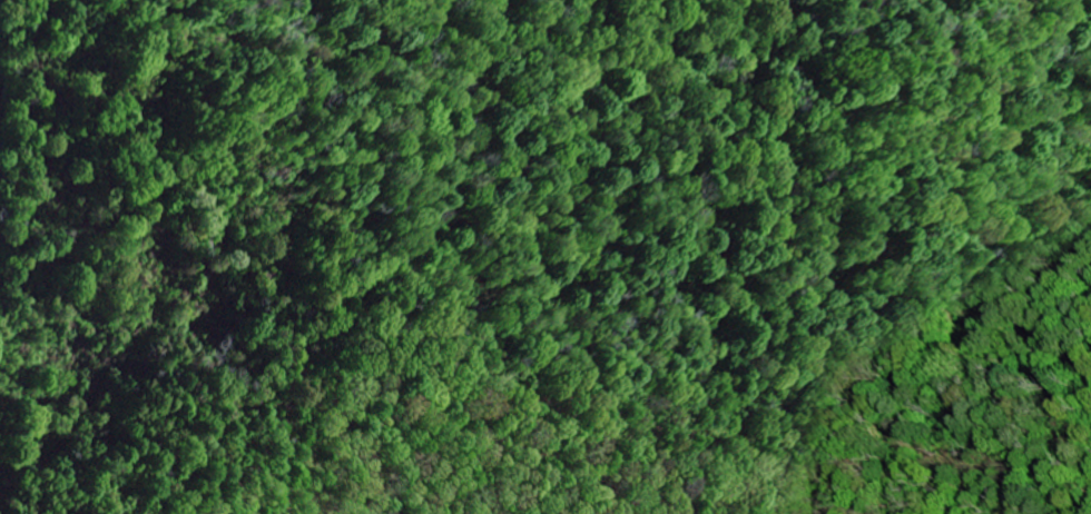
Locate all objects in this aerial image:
road: (11, 40)

